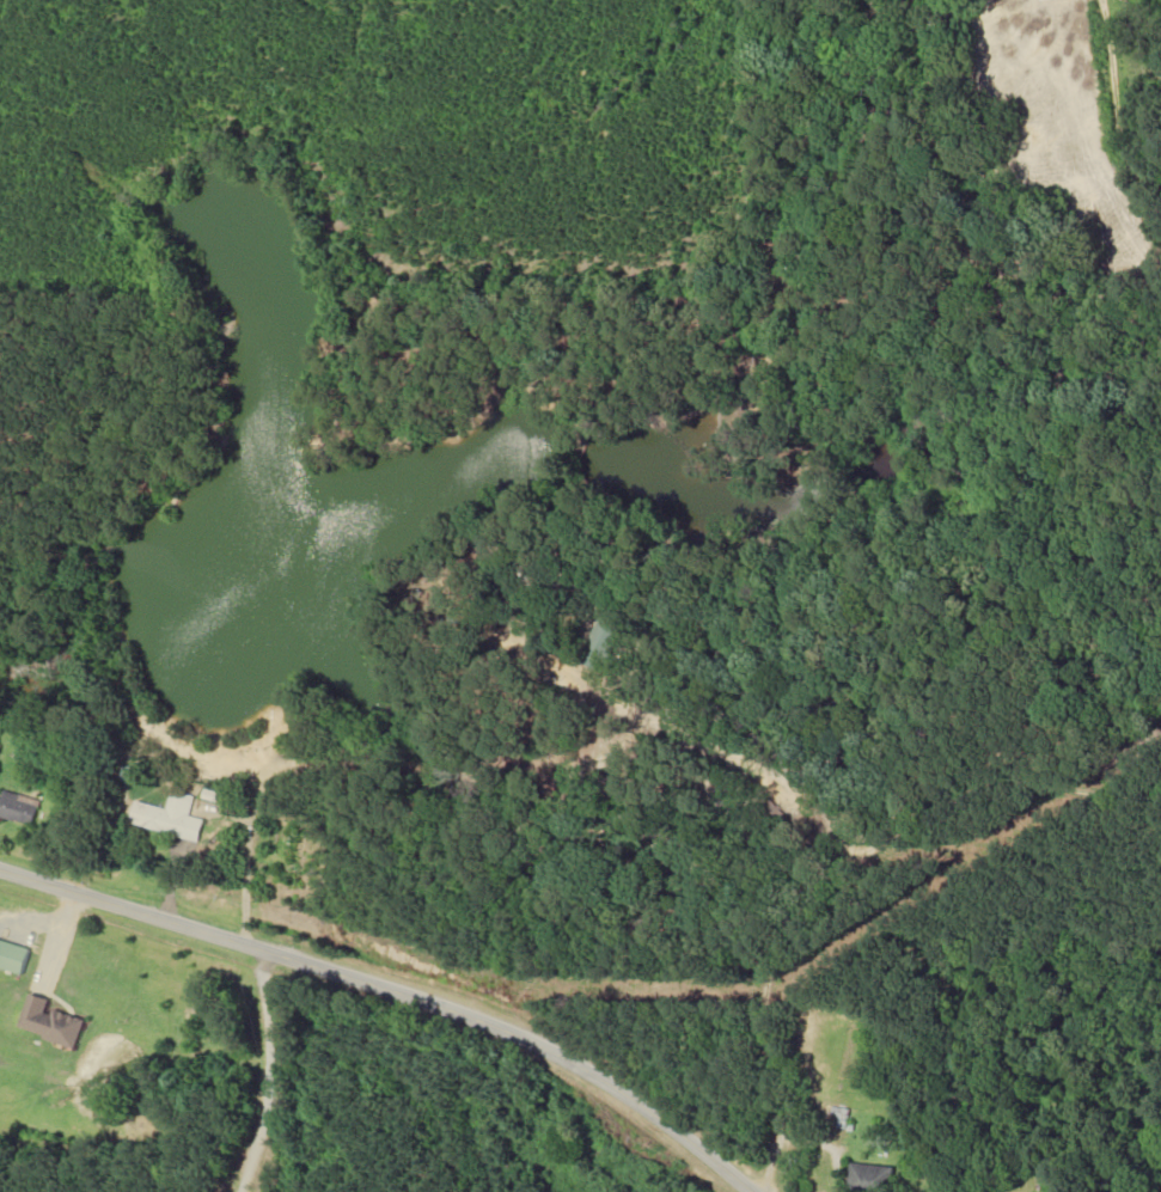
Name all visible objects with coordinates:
building: (604, 640)
building: (17, 807)
building: (766, 808)
building: (173, 818)
building: (11, 958)
road: (393, 992)
road: (781, 1004)
building: (45, 1022)
road: (572, 1137)
building: (869, 1178)

